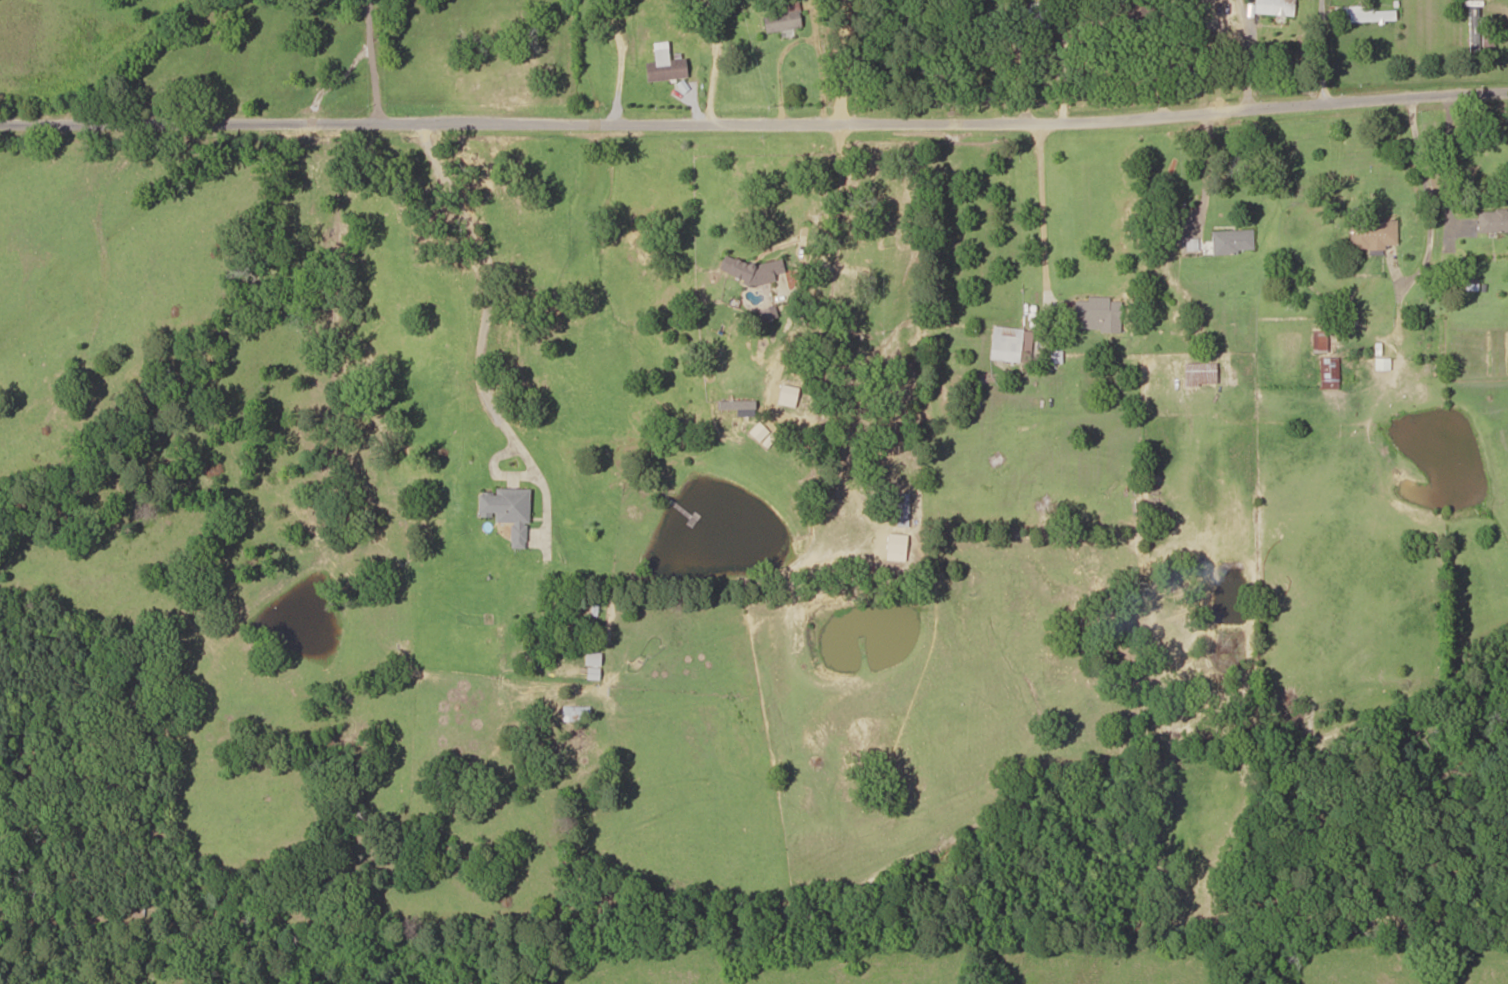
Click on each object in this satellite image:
building: (1273, 7)
building: (1133, 14)
building: (1210, 14)
building: (1029, 16)
building: (1371, 16)
building: (780, 18)
building: (1477, 30)
building: (663, 67)
road: (754, 97)
building: (1492, 220)
building: (1372, 232)
building: (1231, 241)
building: (1095, 311)
building: (1166, 319)
building: (1318, 340)
building: (1004, 343)
building: (1328, 372)
building: (1198, 373)
building: (895, 506)
building: (505, 511)

